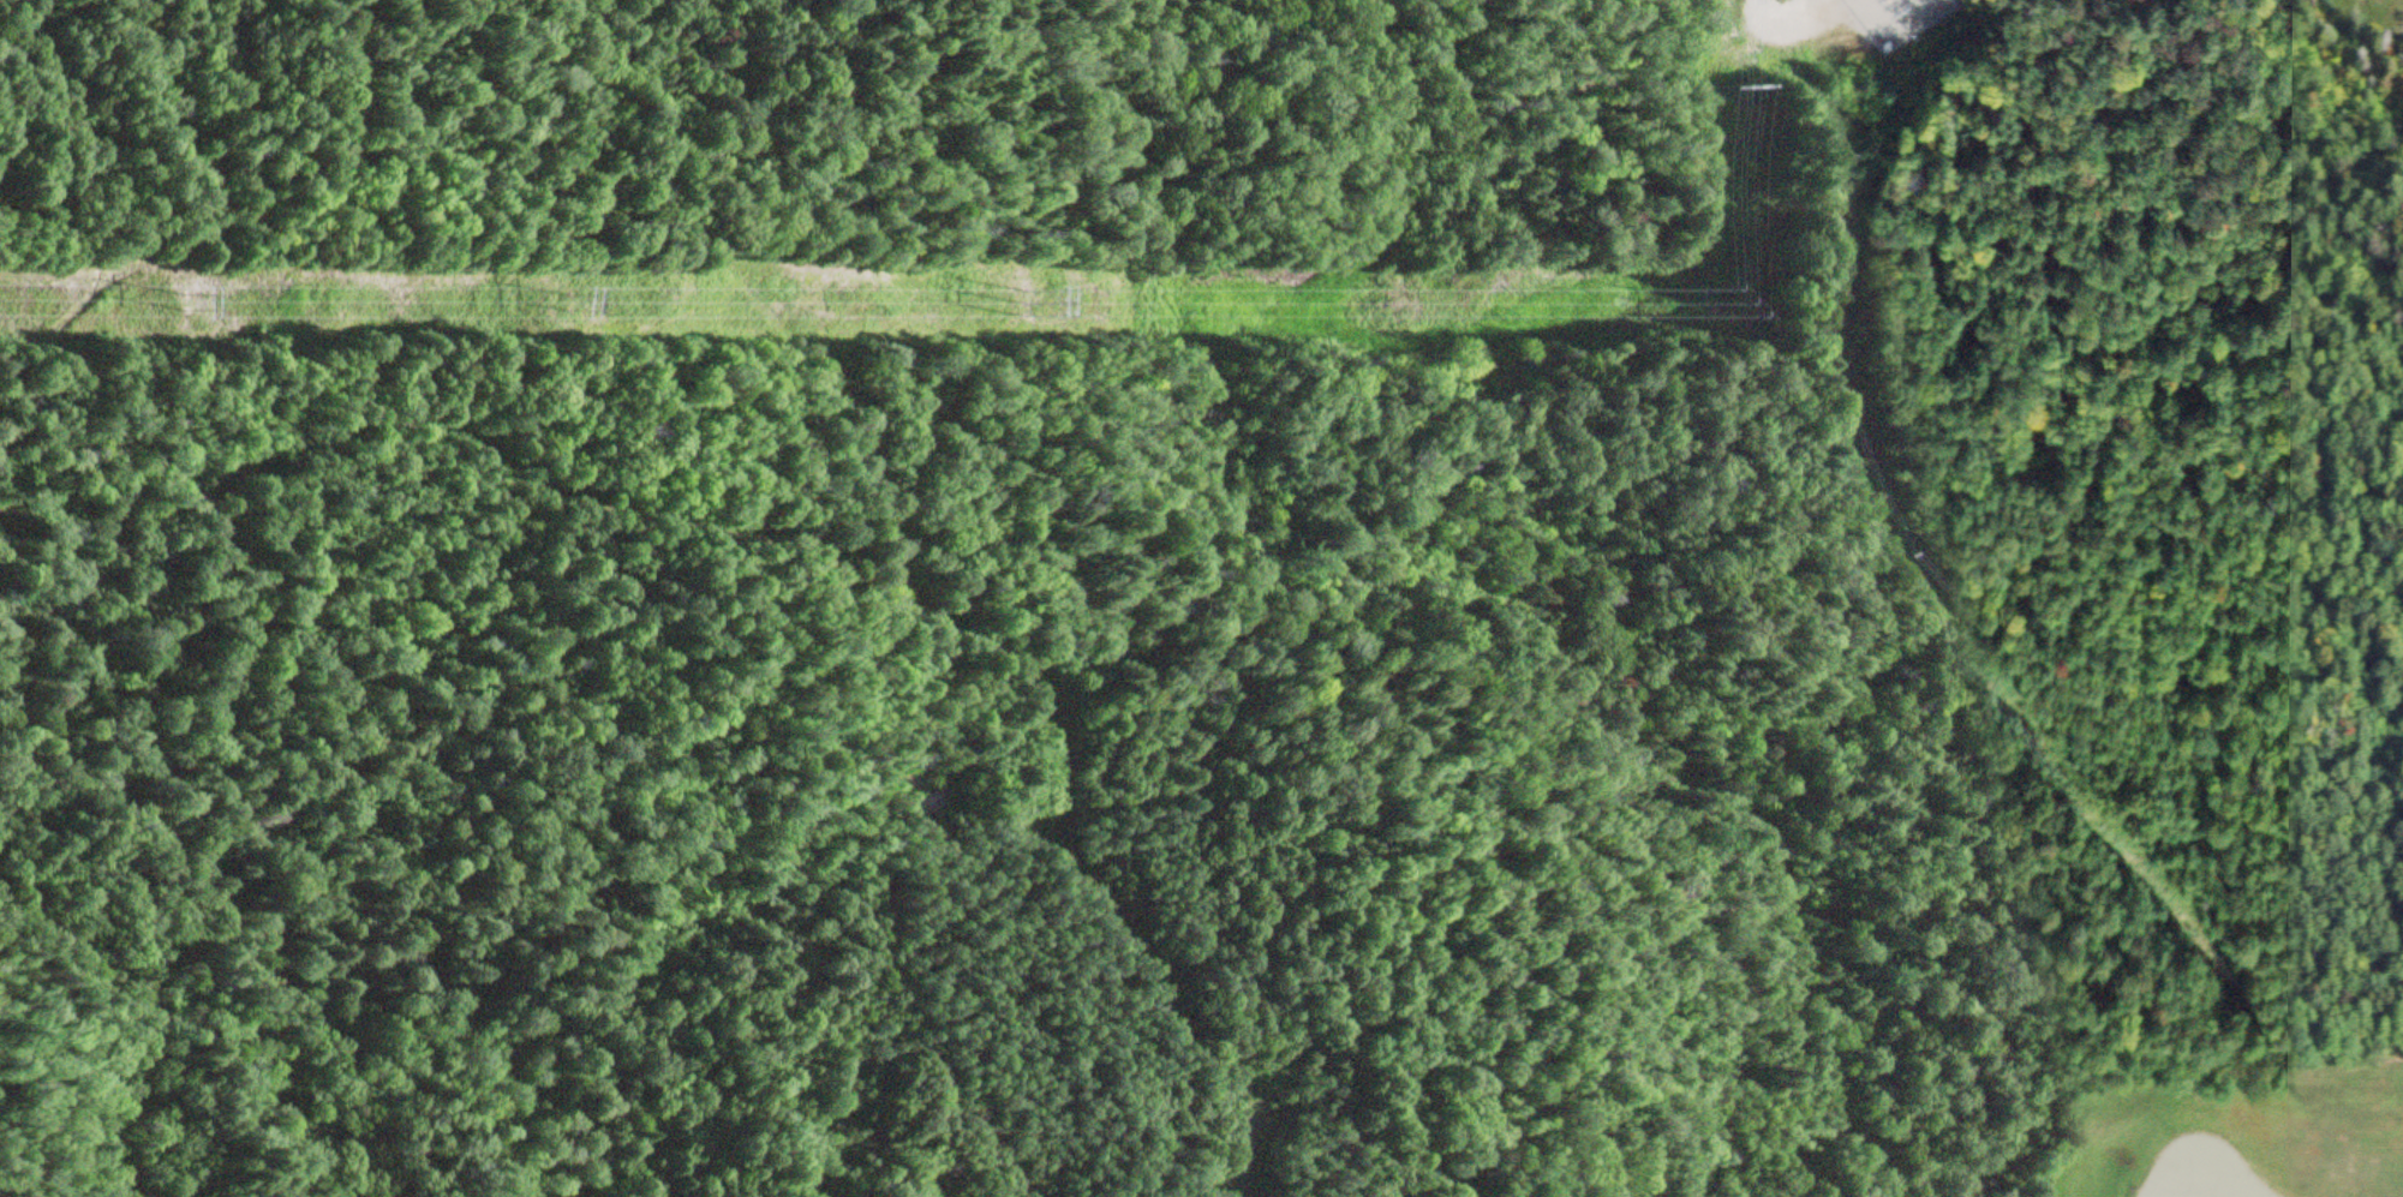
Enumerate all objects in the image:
power substation: (1895, 19)
power tower: (1729, 90)
power tower: (187, 305)
power tower: (564, 305)
power tower: (1022, 306)
power tower: (1722, 306)

